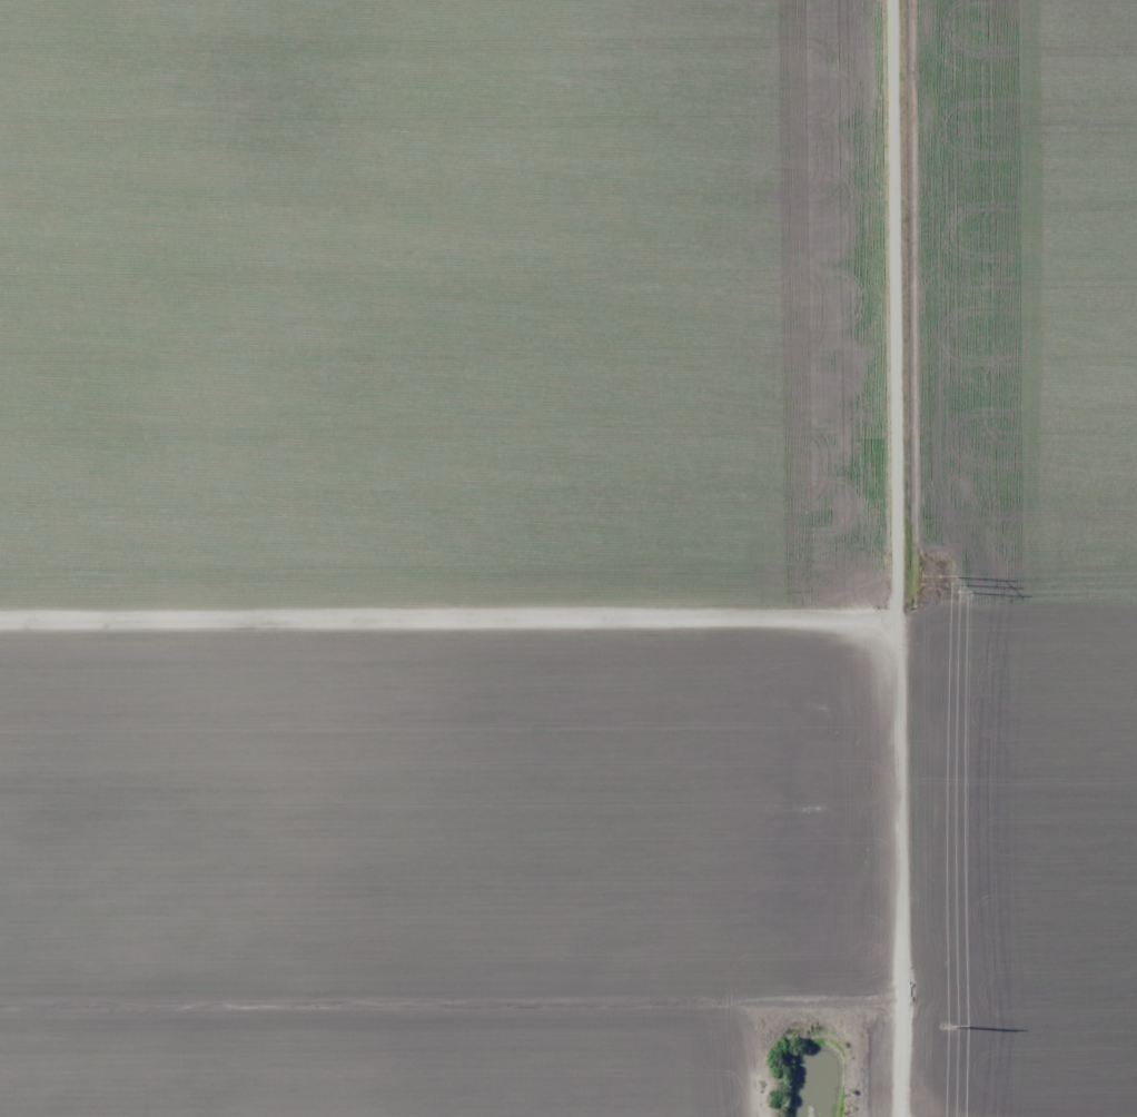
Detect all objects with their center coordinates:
road: (877, 558)
power tower: (949, 579)
power tower: (950, 1024)

